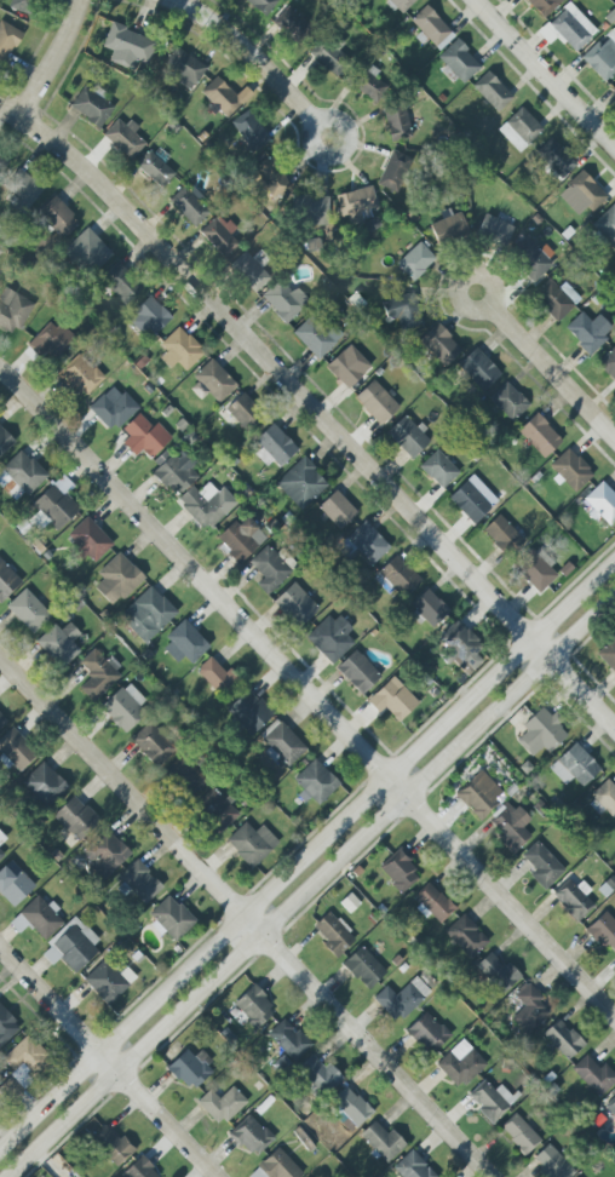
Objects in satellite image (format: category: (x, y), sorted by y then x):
building: (401, 4)
building: (22, 5)
building: (261, 5)
building: (293, 24)
building: (430, 25)
building: (571, 27)
building: (7, 41)
building: (127, 47)
road: (251, 53)
building: (329, 54)
building: (602, 56)
road: (52, 61)
building: (458, 62)
building: (184, 68)
road: (545, 74)
building: (370, 85)
building: (492, 91)
building: (224, 97)
building: (91, 104)
road: (329, 116)
building: (396, 120)
building: (519, 130)
building: (249, 131)
building: (123, 138)
building: (554, 157)
building: (2, 162)
building: (154, 168)
building: (269, 170)
building: (393, 171)
building: (21, 189)
building: (581, 194)
building: (356, 203)
building: (189, 205)
building: (311, 209)
building: (57, 217)
building: (607, 226)
building: (449, 228)
building: (493, 231)
building: (219, 235)
building: (87, 252)
building: (531, 260)
building: (415, 262)
road: (467, 274)
building: (120, 282)
building: (556, 298)
building: (282, 302)
building: (12, 310)
building: (402, 311)
building: (149, 317)
building: (588, 331)
building: (316, 335)
building: (50, 341)
building: (439, 345)
building: (180, 349)
building: (608, 363)
building: (347, 367)
building: (478, 369)
road: (552, 372)
building: (80, 375)
building: (214, 380)
building: (375, 402)
building: (508, 402)
building: (242, 409)
building: (113, 410)
road: (314, 410)
building: (539, 435)
building: (408, 436)
building: (144, 437)
building: (4, 441)
building: (274, 446)
building: (438, 469)
building: (571, 470)
building: (23, 472)
building: (173, 472)
building: (300, 483)
building: (57, 503)
building: (469, 503)
building: (206, 504)
building: (602, 504)
building: (337, 510)
building: (501, 535)
building: (88, 539)
building: (238, 539)
building: (367, 542)
building: (269, 569)
building: (535, 569)
building: (116, 579)
building: (7, 581)
building: (295, 605)
building: (429, 608)
building: (28, 610)
building: (146, 615)
building: (331, 638)
building: (59, 643)
building: (184, 644)
building: (462, 647)
building: (608, 654)
building: (357, 672)
building: (97, 674)
building: (214, 676)
road: (309, 693)
building: (392, 700)
building: (123, 707)
building: (248, 712)
building: (1, 722)
building: (540, 733)
building: (282, 742)
building: (151, 745)
building: (16, 750)
building: (574, 767)
building: (185, 776)
building: (315, 782)
building: (42, 783)
building: (479, 794)
building: (605, 797)
building: (215, 809)
building: (75, 817)
building: (508, 825)
building: (1, 838)
building: (251, 843)
road: (305, 850)
building: (1, 855)
building: (104, 855)
building: (541, 865)
building: (398, 872)
building: (139, 882)
building: (13, 884)
road: (314, 886)
building: (573, 898)
building: (432, 903)
road: (245, 917)
building: (38, 918)
building: (171, 918)
building: (603, 931)
building: (333, 934)
building: (465, 936)
building: (71, 946)
building: (363, 968)
building: (498, 974)
building: (109, 981)
building: (401, 999)
building: (253, 1007)
building: (529, 1010)
building: (427, 1033)
building: (562, 1039)
building: (289, 1040)
building: (25, 1058)
road: (108, 1062)
building: (460, 1063)
building: (189, 1069)
building: (318, 1075)
building: (593, 1075)
building: (490, 1100)
building: (220, 1104)
building: (351, 1106)
building: (610, 1107)
building: (519, 1133)
building: (251, 1136)
building: (381, 1141)
building: (108, 1142)
building: (552, 1164)
building: (278, 1165)
building: (412, 1166)
building: (139, 1170)

